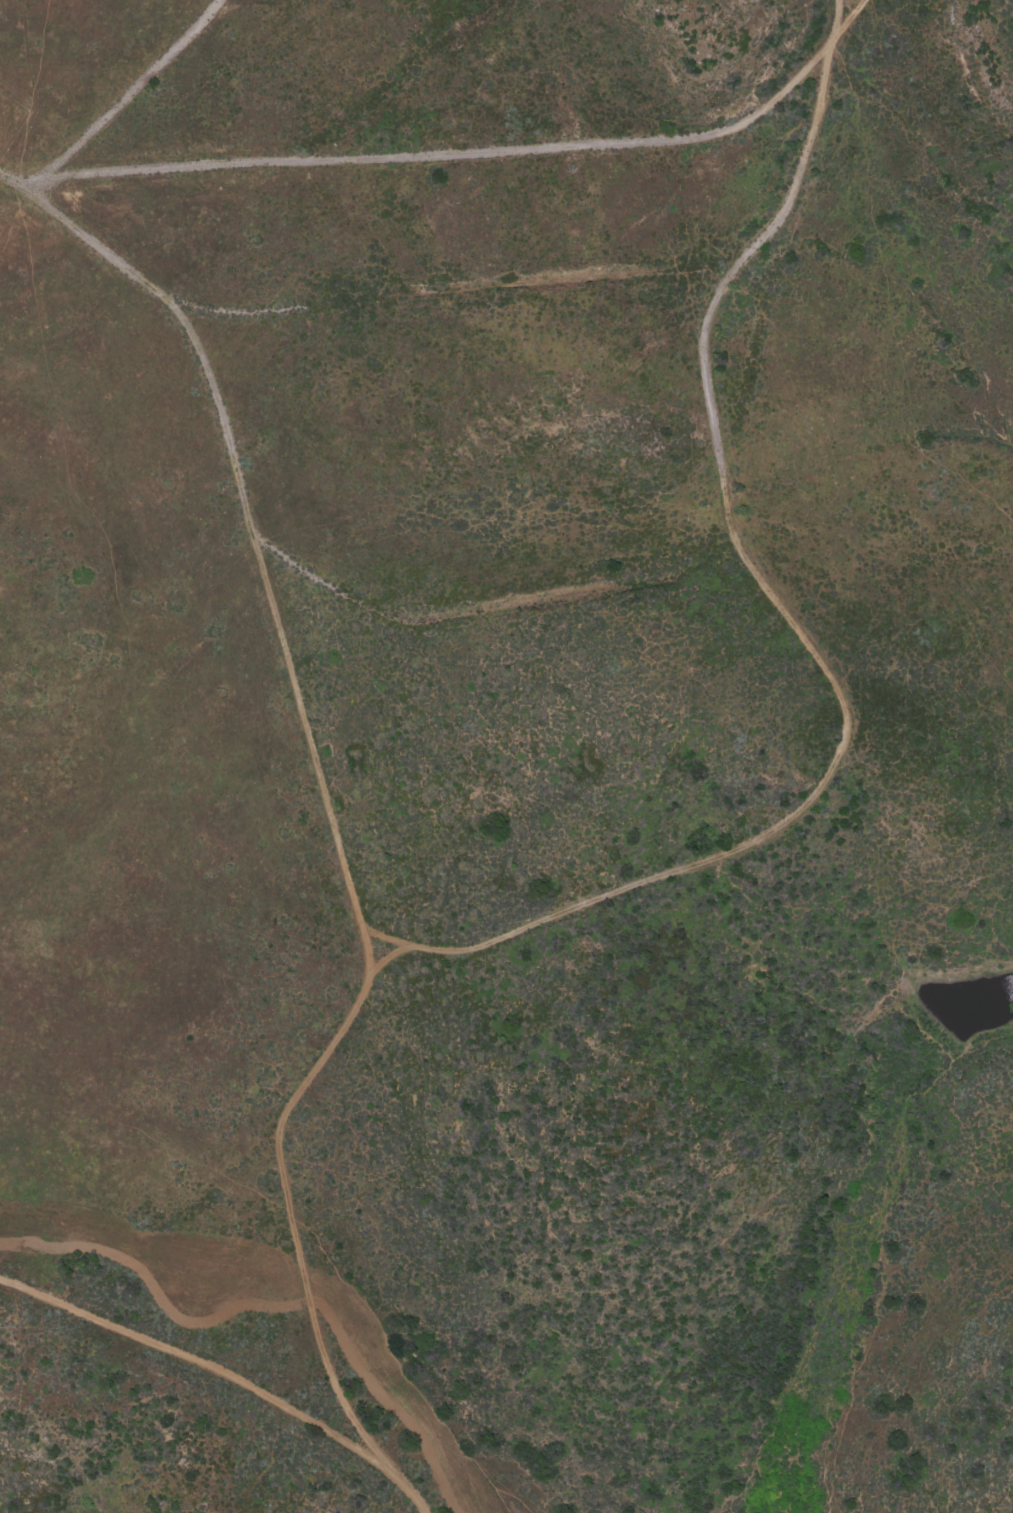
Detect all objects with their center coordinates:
road: (289, 1212)
road: (226, 1375)

